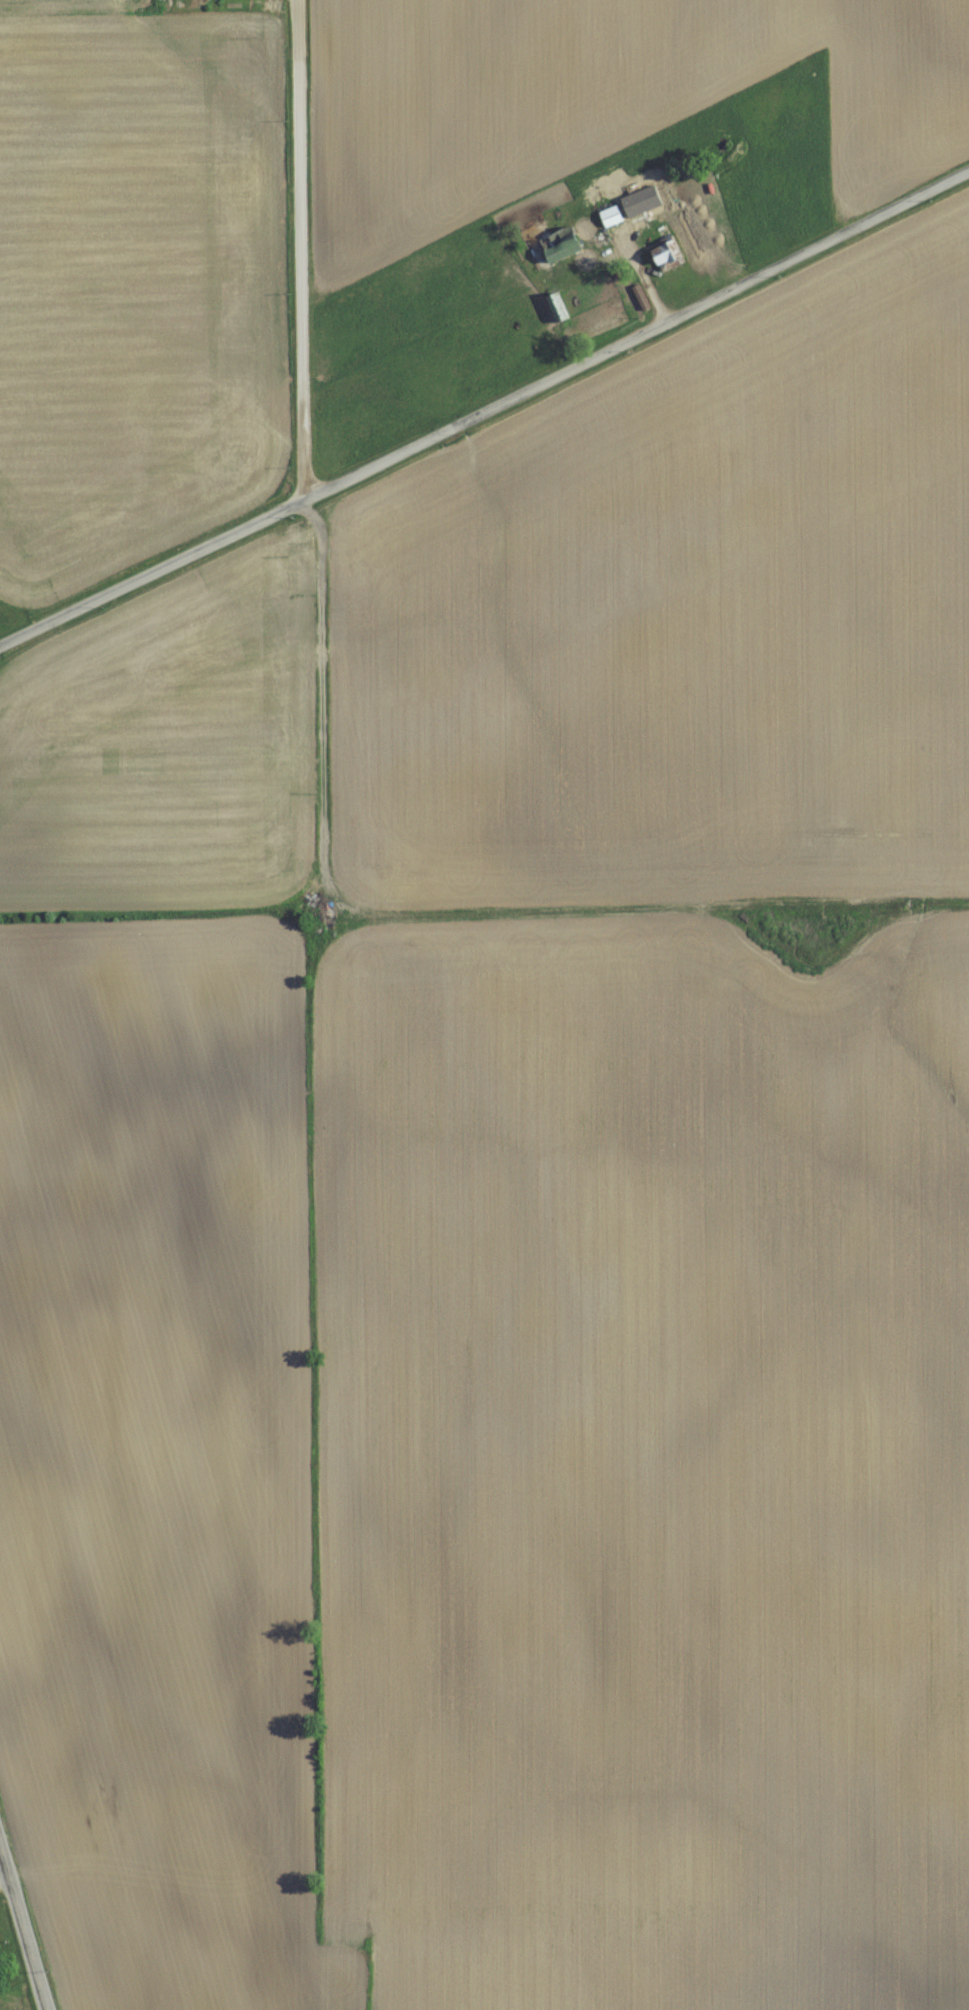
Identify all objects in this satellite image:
building: (607, 215)
building: (551, 244)
road: (301, 249)
building: (659, 254)
road: (648, 275)
road: (485, 407)
road: (5, 1873)
road: (24, 1924)

